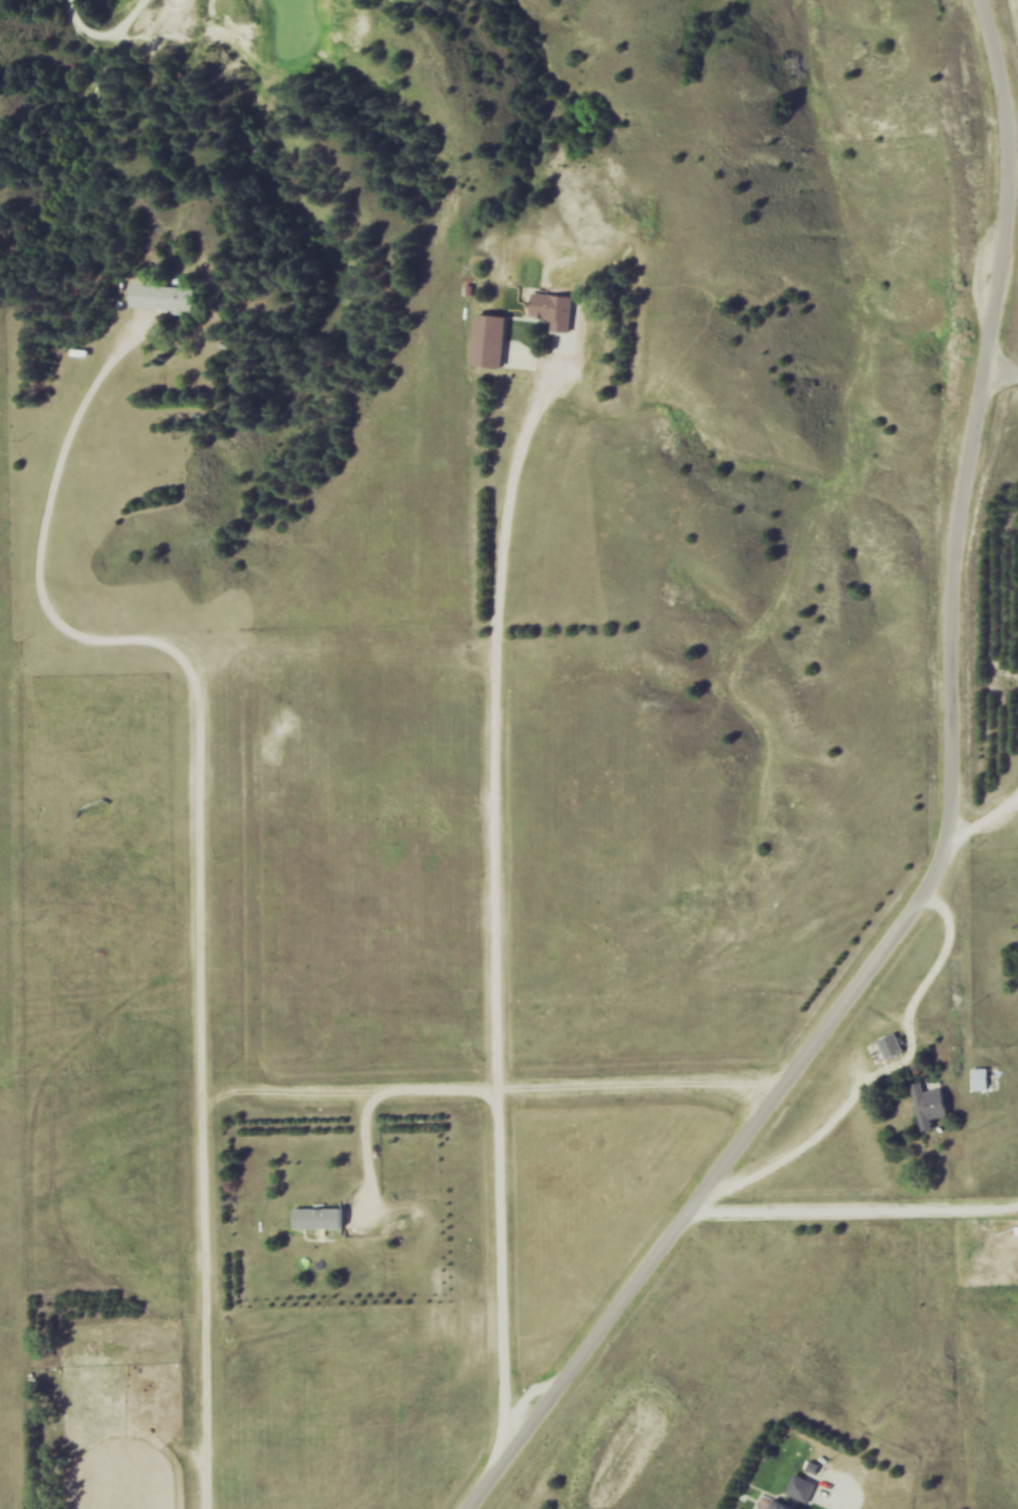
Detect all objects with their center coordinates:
building: (165, 296)
building: (558, 309)
building: (493, 340)
road: (1003, 372)
road: (168, 652)
road: (490, 716)
road: (986, 823)
road: (953, 829)
building: (895, 1045)
building: (985, 1078)
road: (482, 1094)
building: (933, 1105)
road: (364, 1165)
road: (850, 1216)
building: (321, 1218)
road: (200, 1309)
building: (804, 1488)
building: (785, 1505)
road: (823, 1506)

